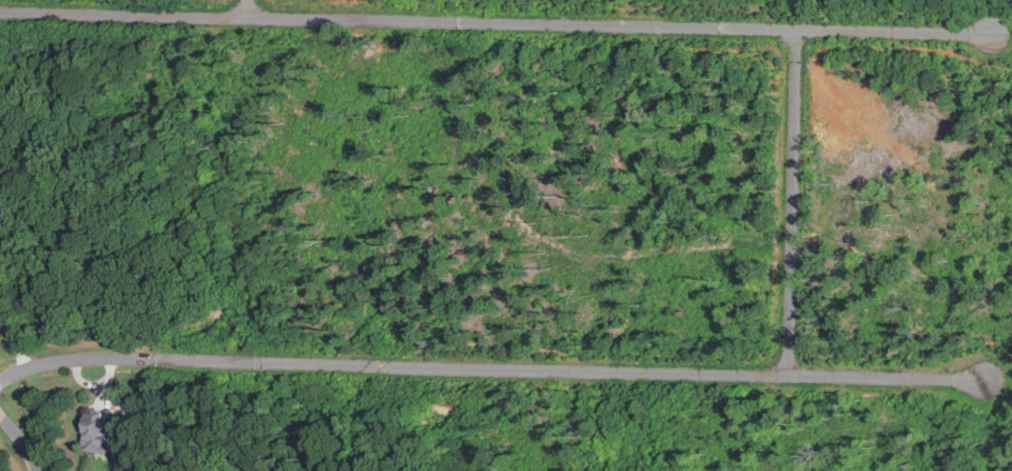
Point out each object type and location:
road: (251, 9)
road: (497, 25)
road: (790, 204)
building: (5, 283)
road: (488, 368)
building: (105, 429)
road: (19, 440)

